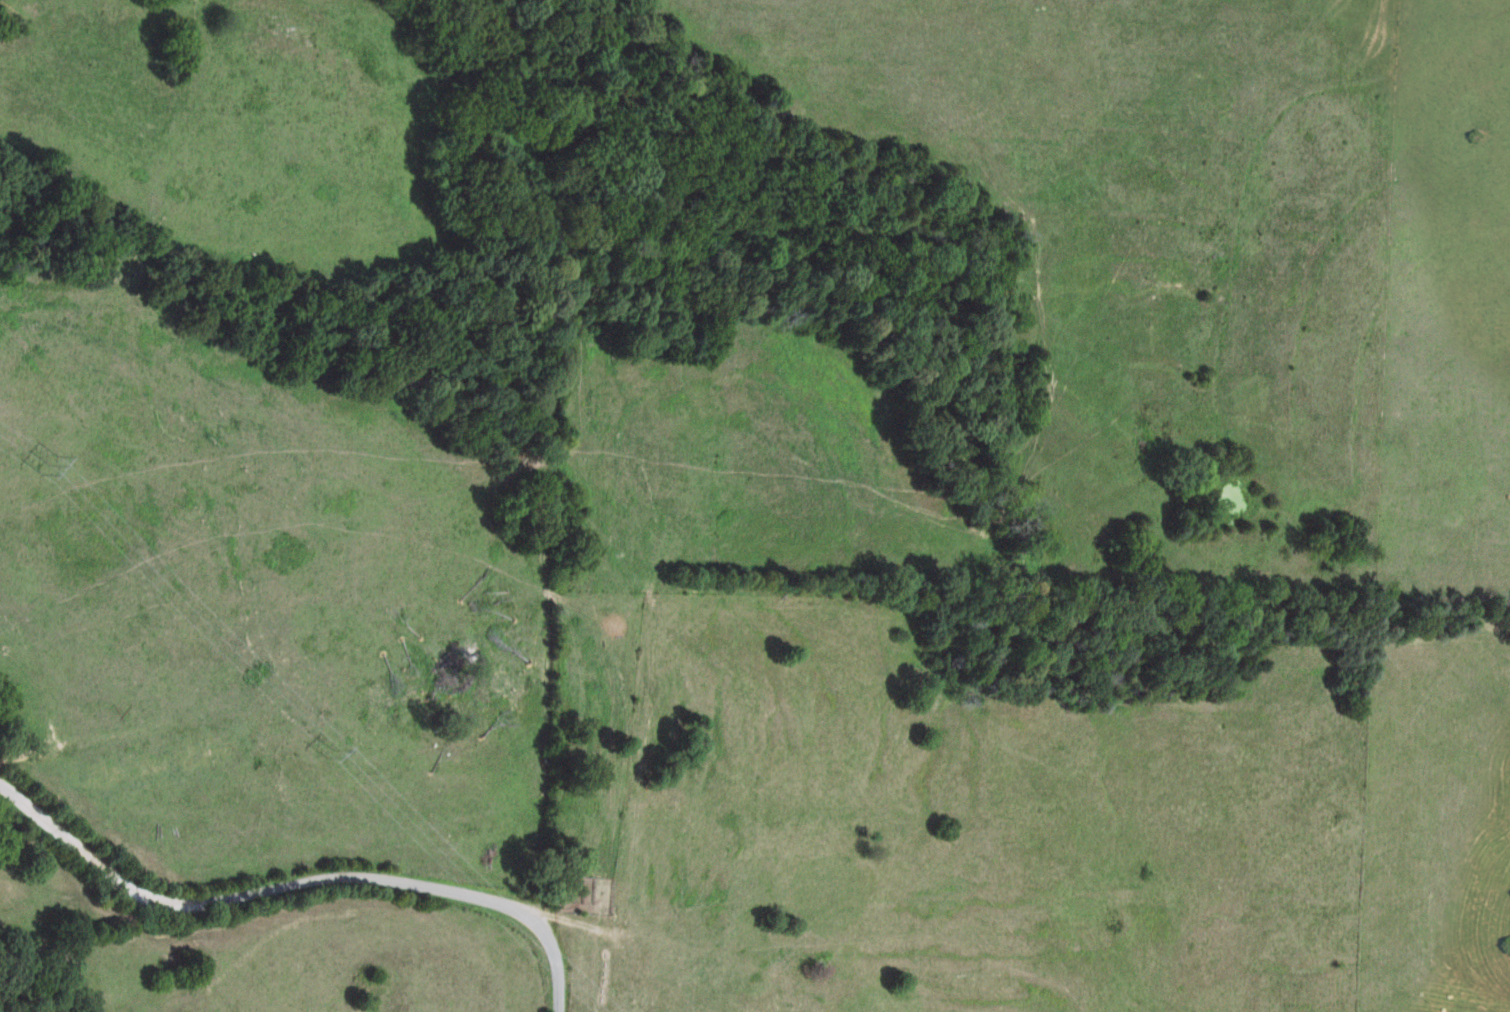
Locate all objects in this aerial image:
road: (302, 874)

